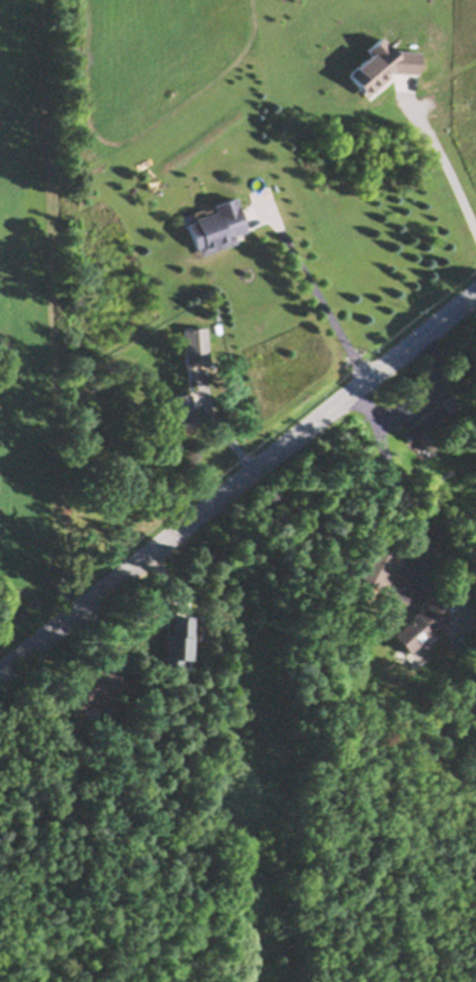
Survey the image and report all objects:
building: (383, 67)
road: (443, 166)
building: (218, 228)
road: (311, 286)
building: (197, 346)
building: (450, 402)
building: (180, 415)
road: (214, 419)
building: (421, 423)
building: (427, 442)
road: (237, 470)
road: (413, 524)
building: (449, 628)
building: (418, 630)
building: (179, 646)
building: (96, 688)

